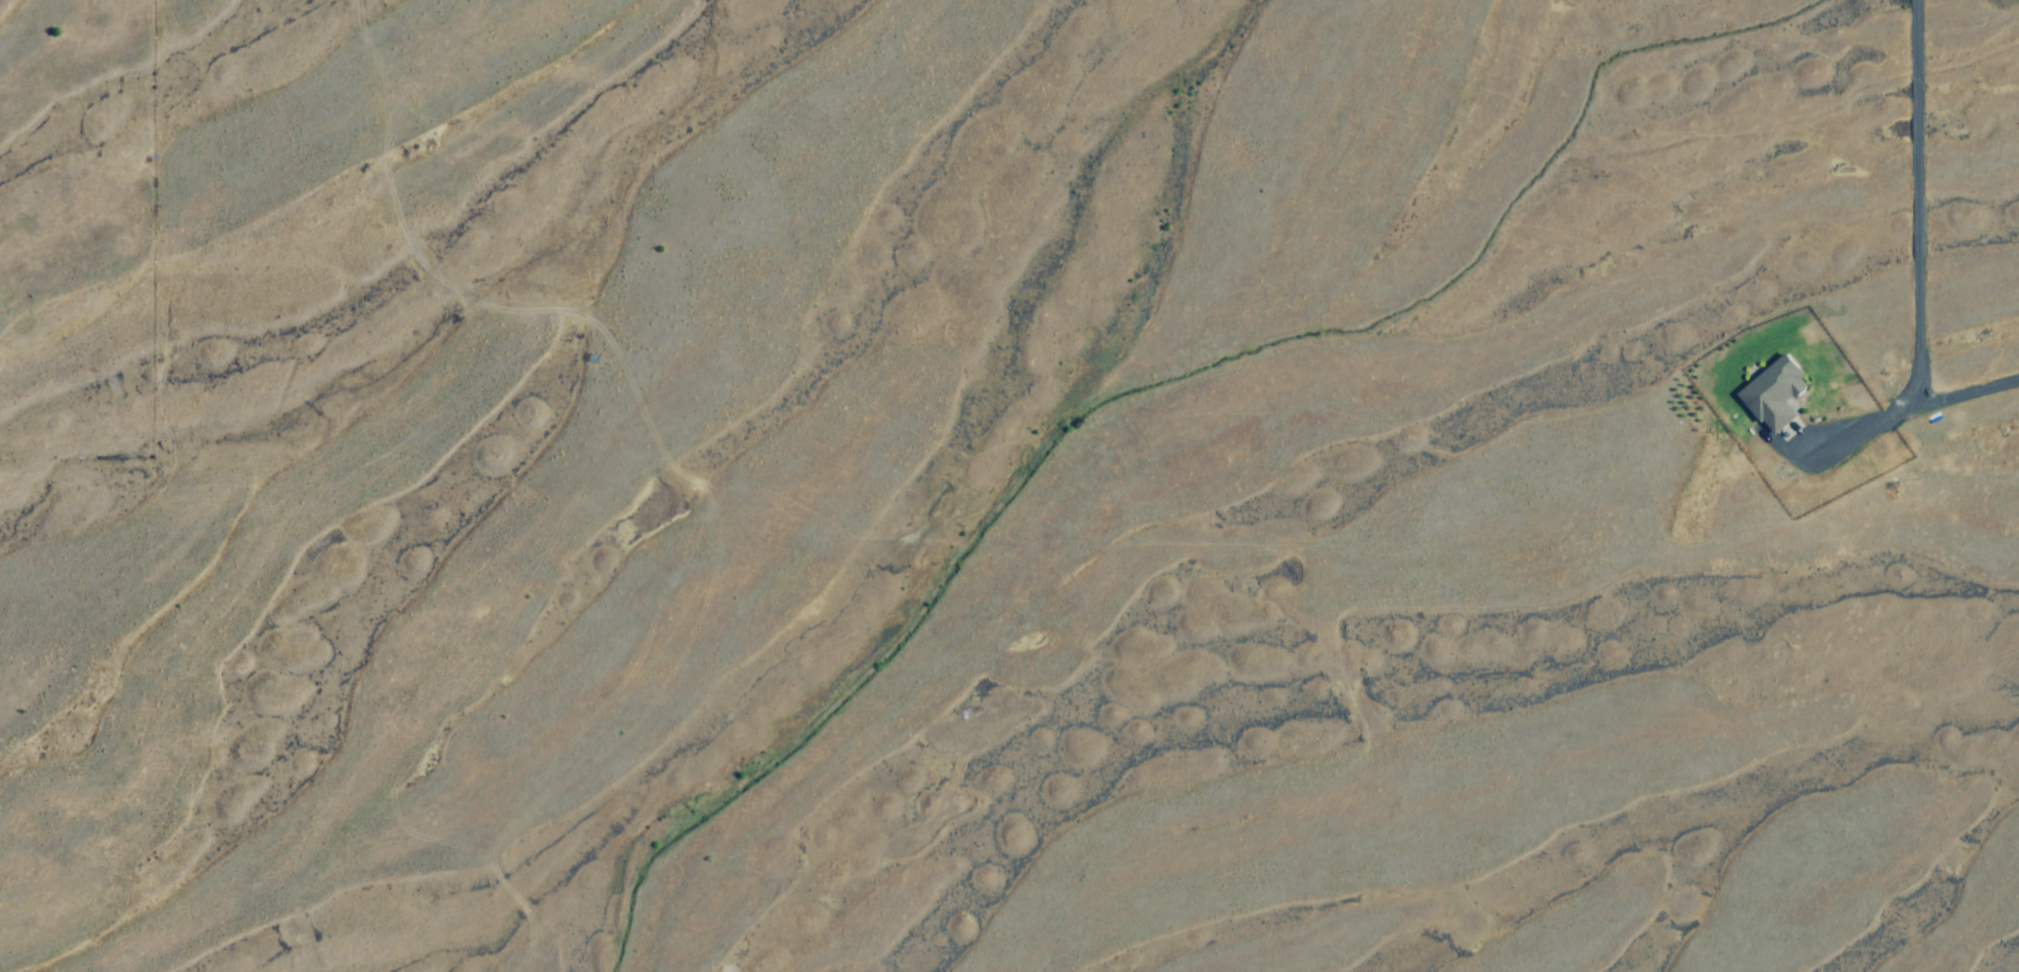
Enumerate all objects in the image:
road: (1908, 258)
building: (1775, 391)

